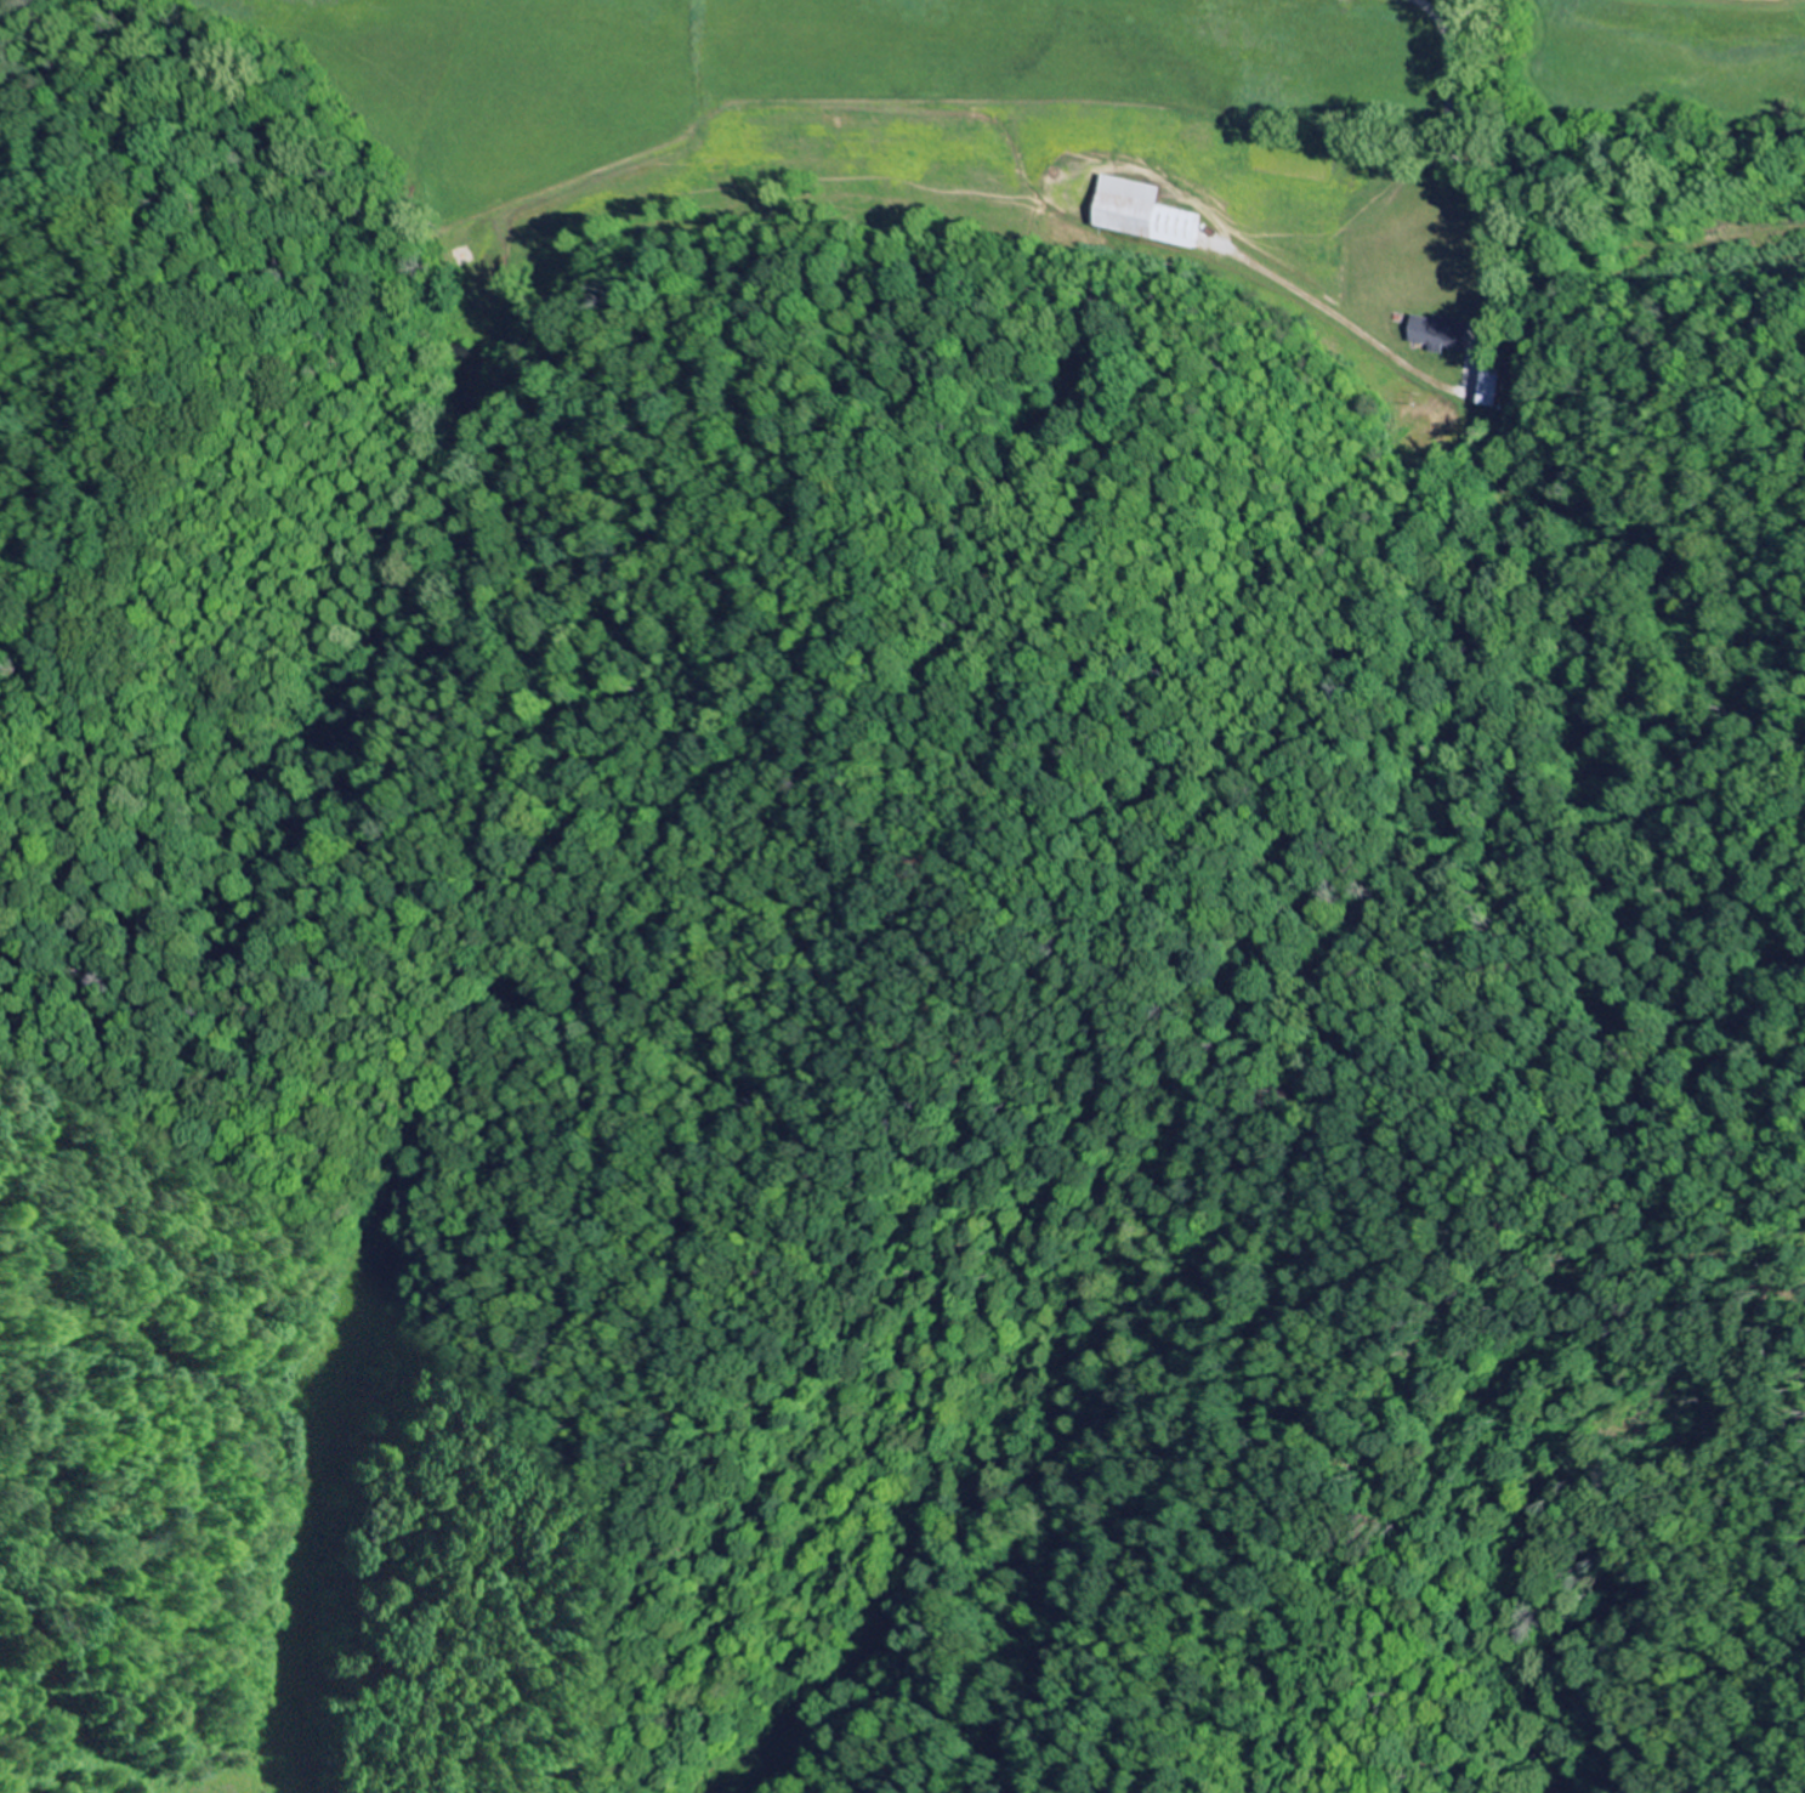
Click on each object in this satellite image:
building: (1142, 212)
building: (1440, 333)

